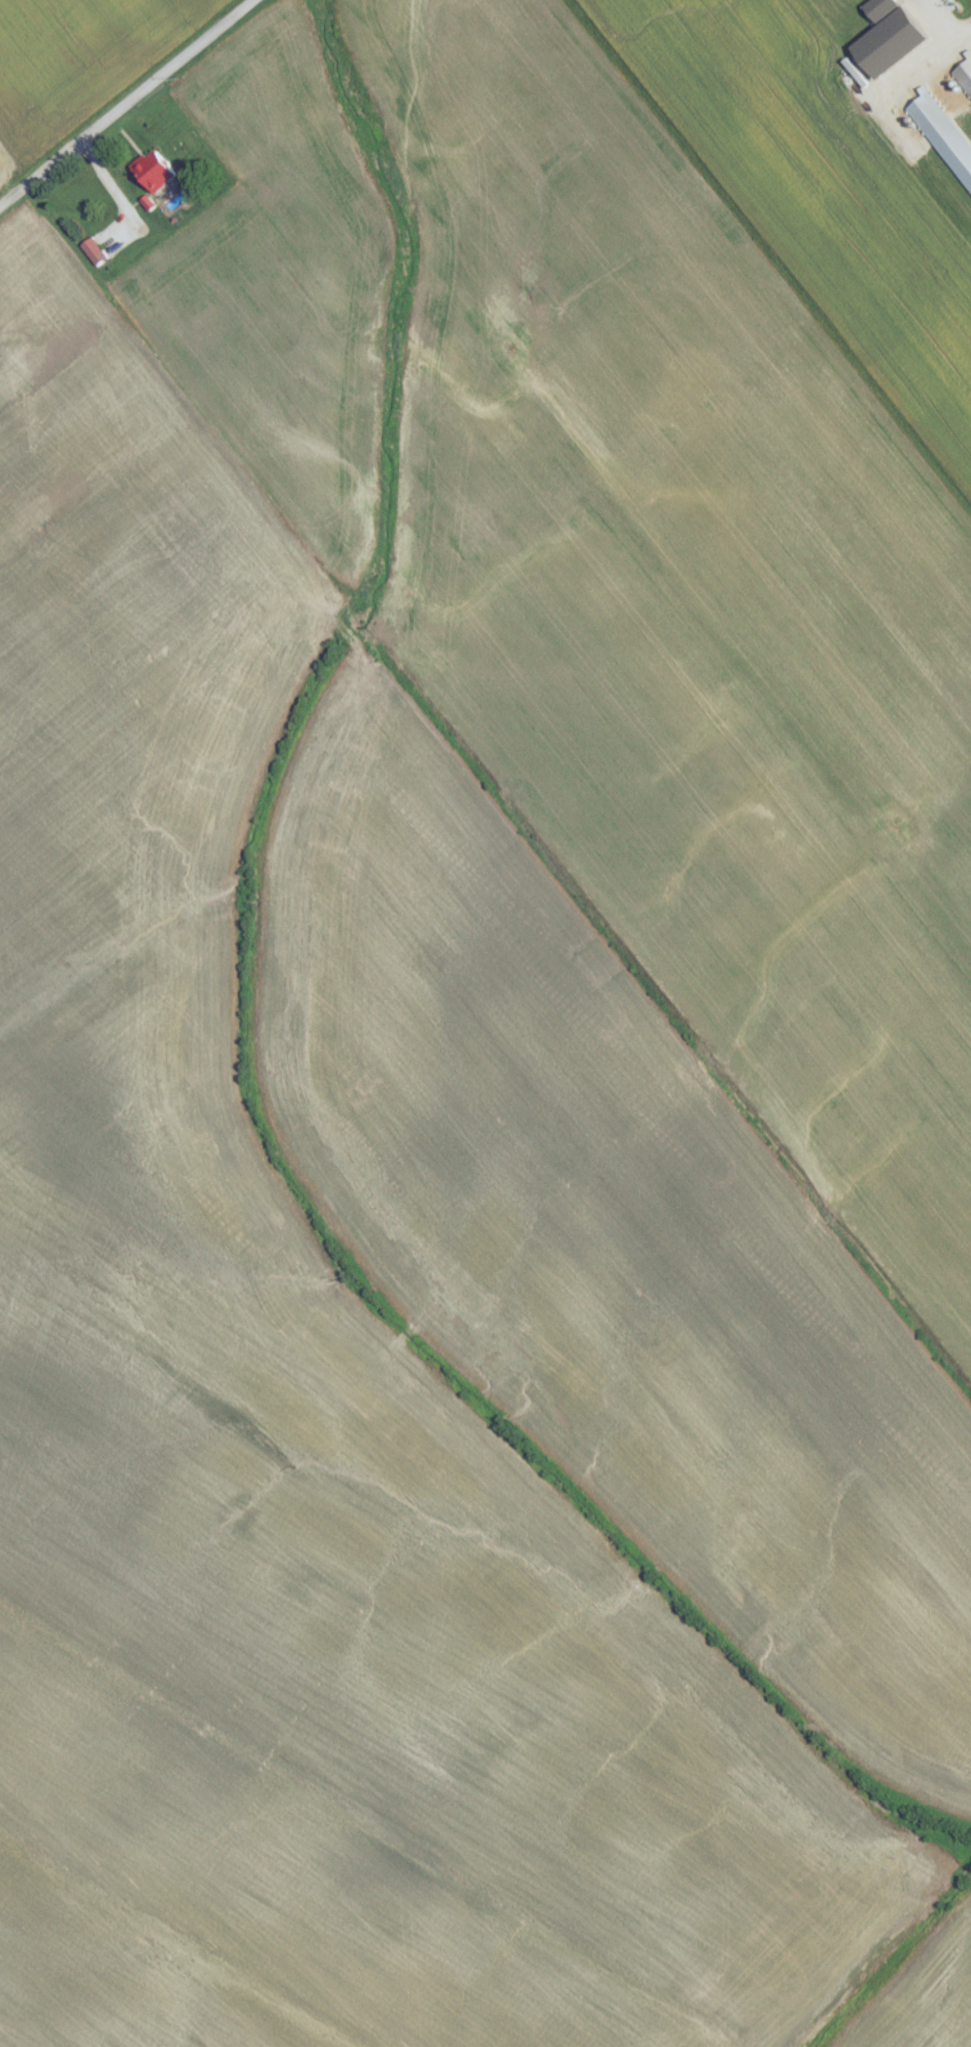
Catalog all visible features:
road: (938, 18)
building: (966, 77)
road: (127, 103)
building: (945, 138)
building: (157, 176)
building: (95, 257)

